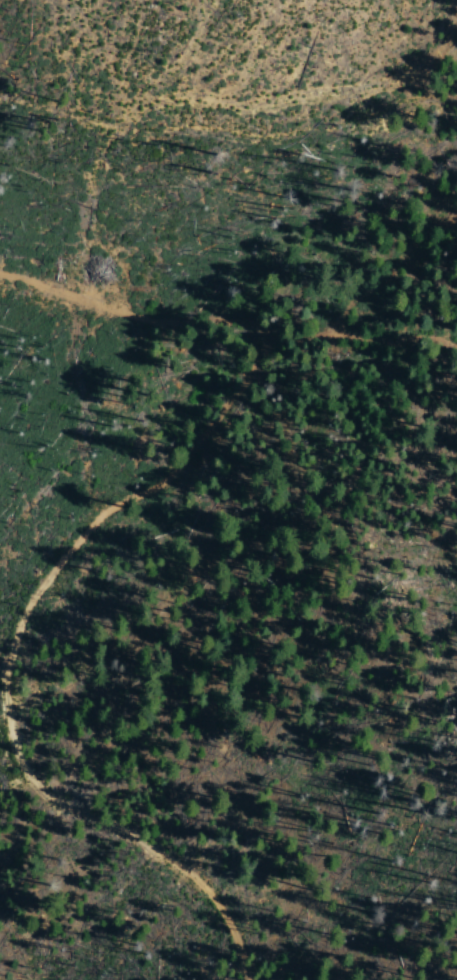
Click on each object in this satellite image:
road: (351, 269)
road: (125, 314)
road: (354, 341)
road: (36, 679)

